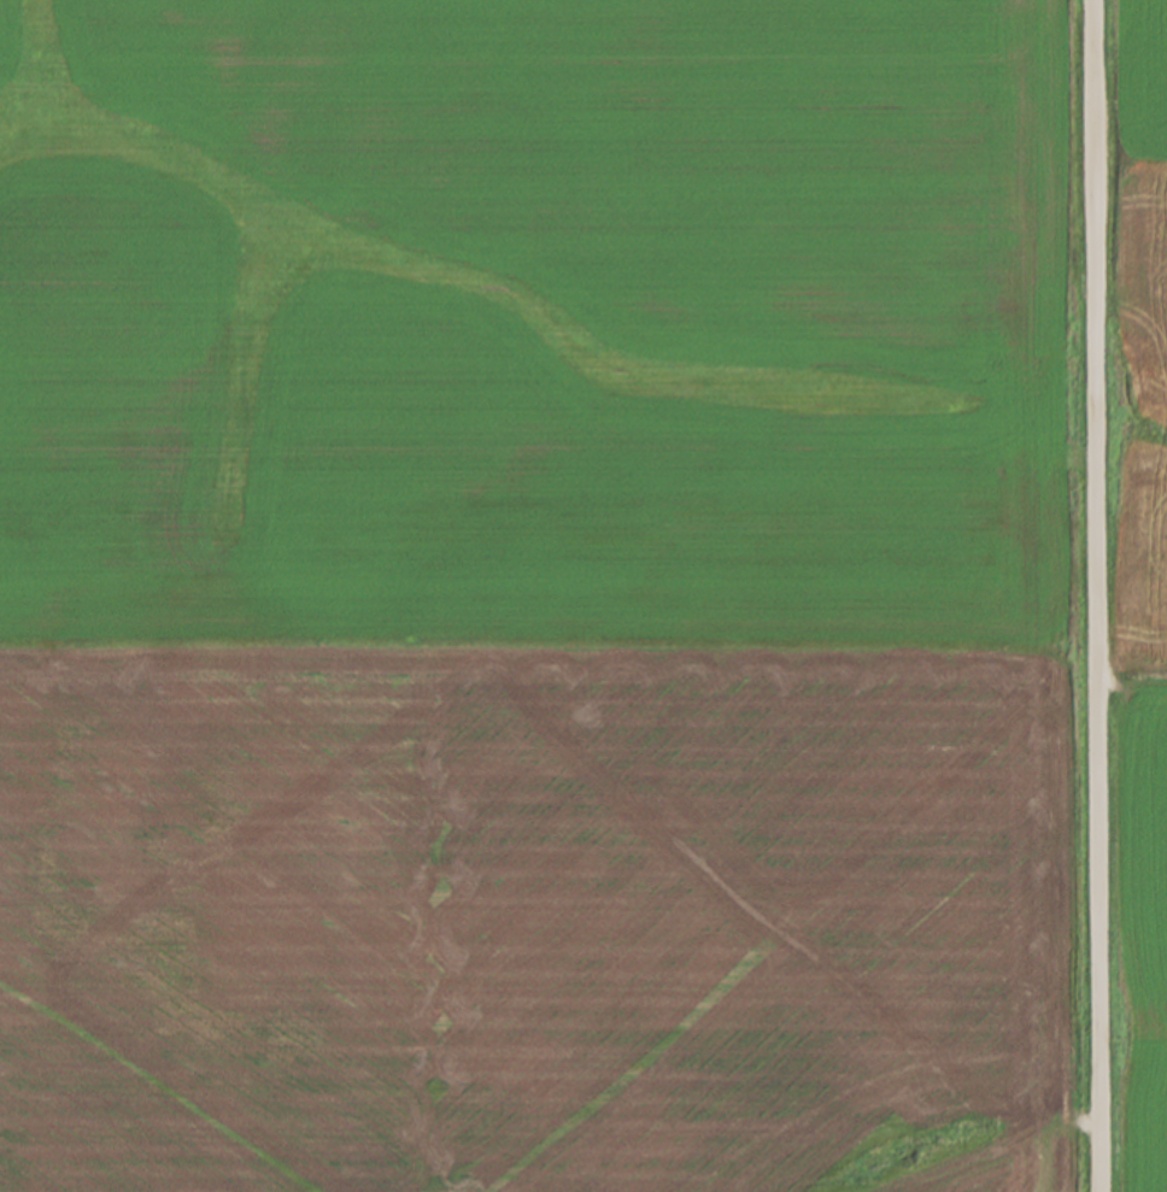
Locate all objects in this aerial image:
road: (1098, 595)

